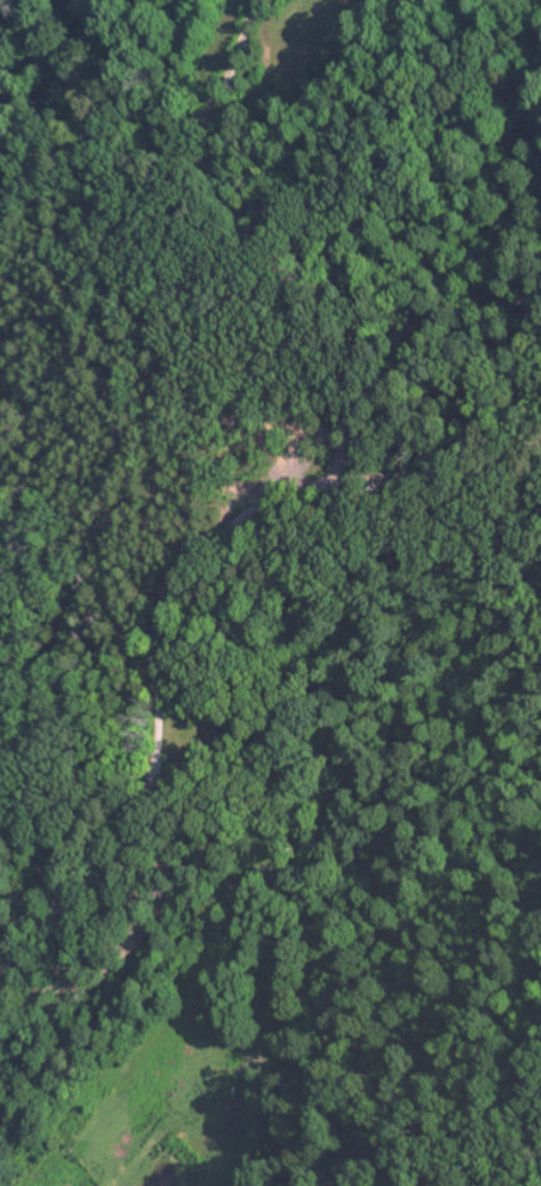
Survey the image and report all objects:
road: (88, 566)
road: (171, 600)

